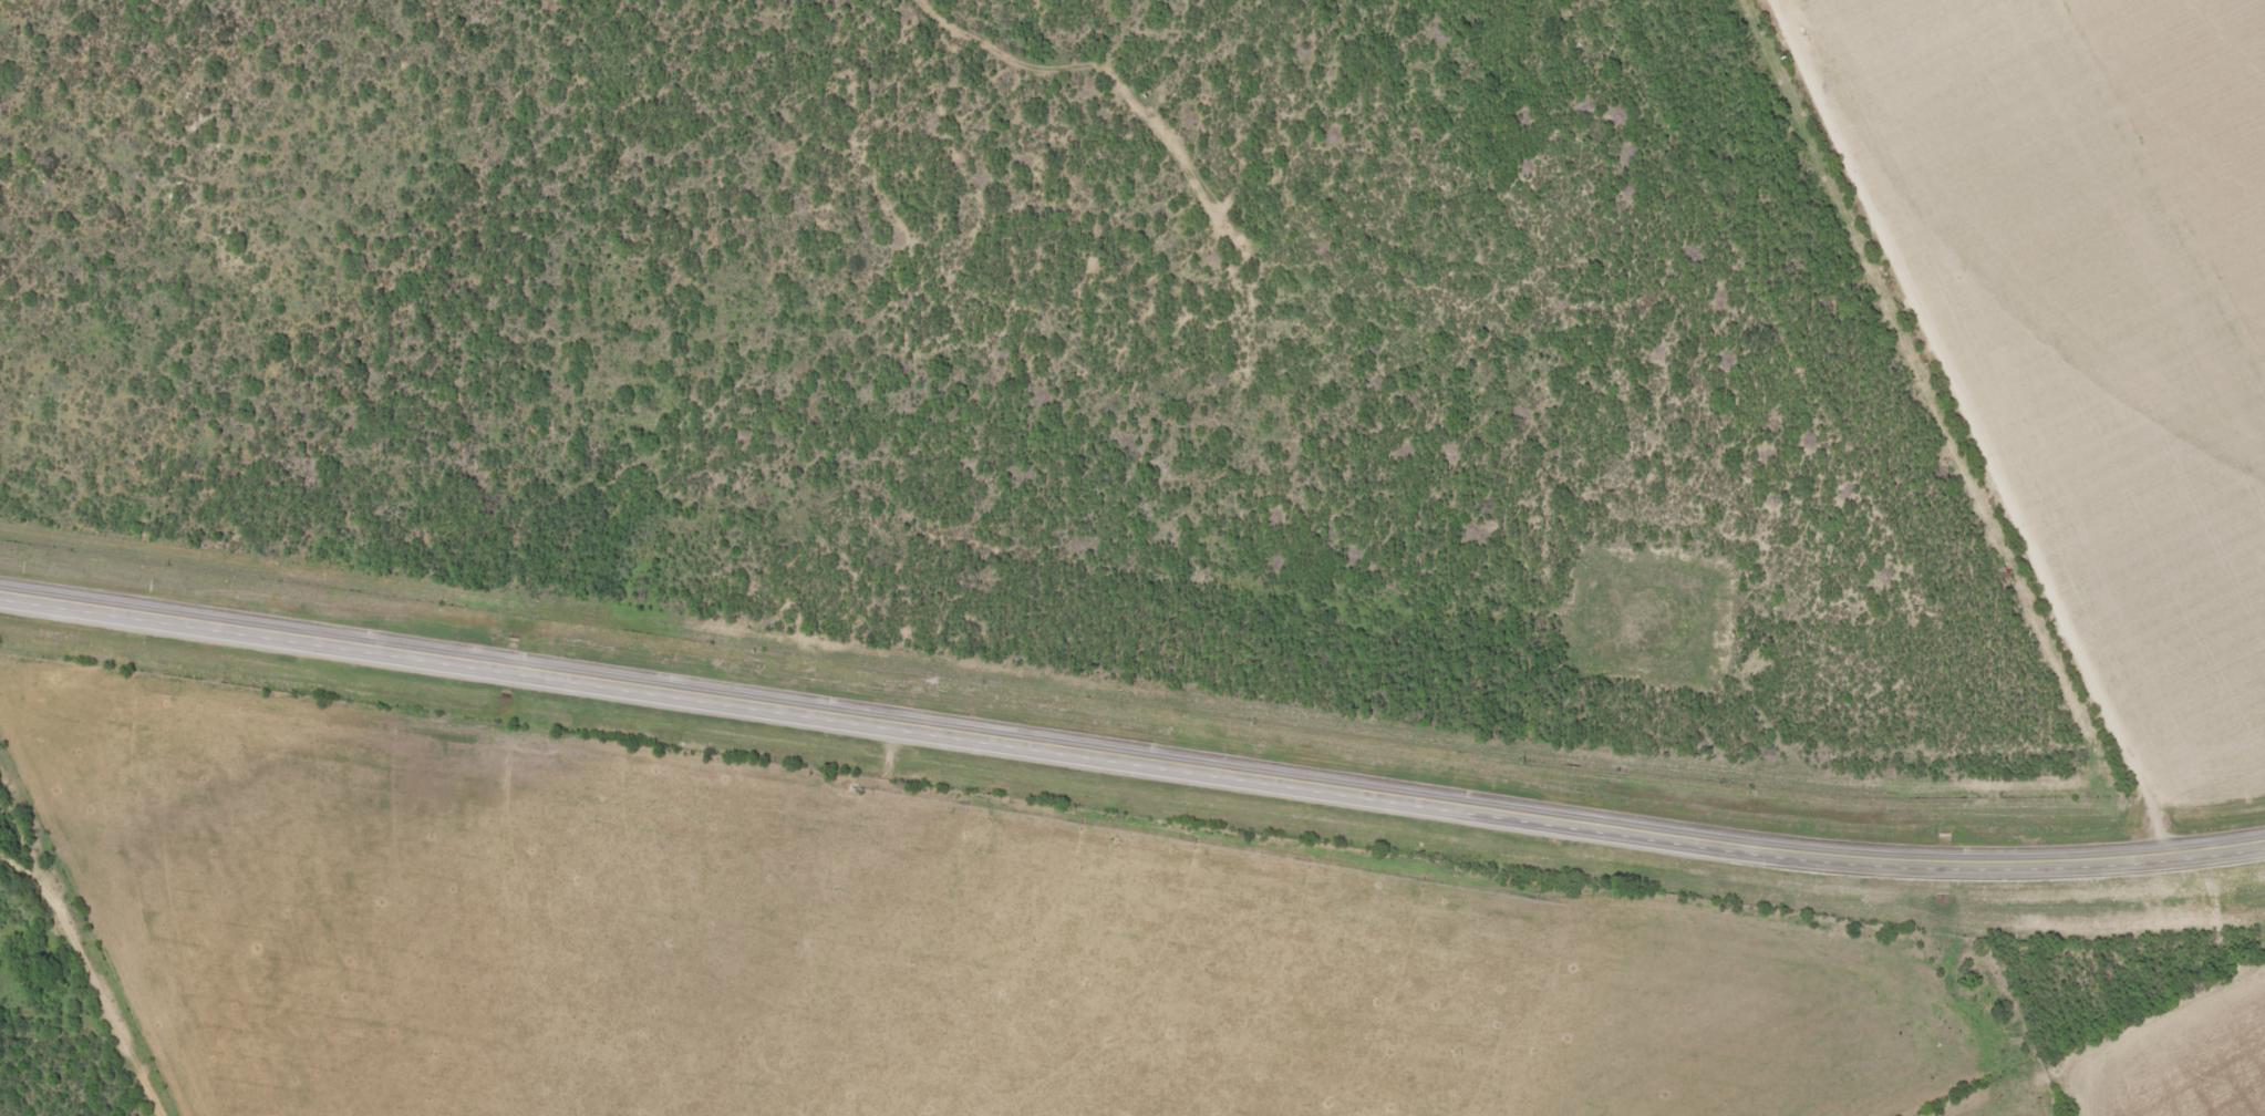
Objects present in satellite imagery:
road: (2071, 637)
road: (1131, 756)
road: (819, 919)

